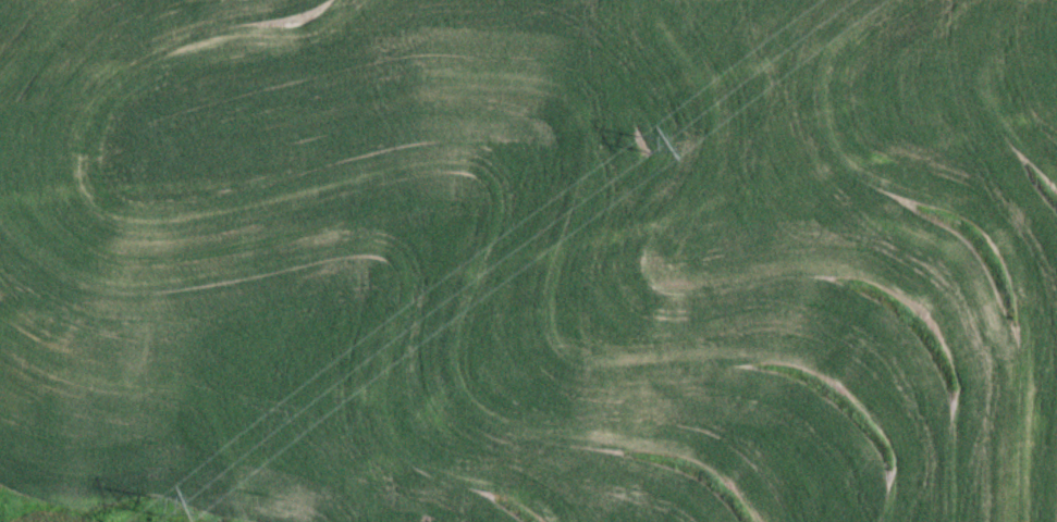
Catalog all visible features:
power tower: (646, 142)
power tower: (158, 499)

